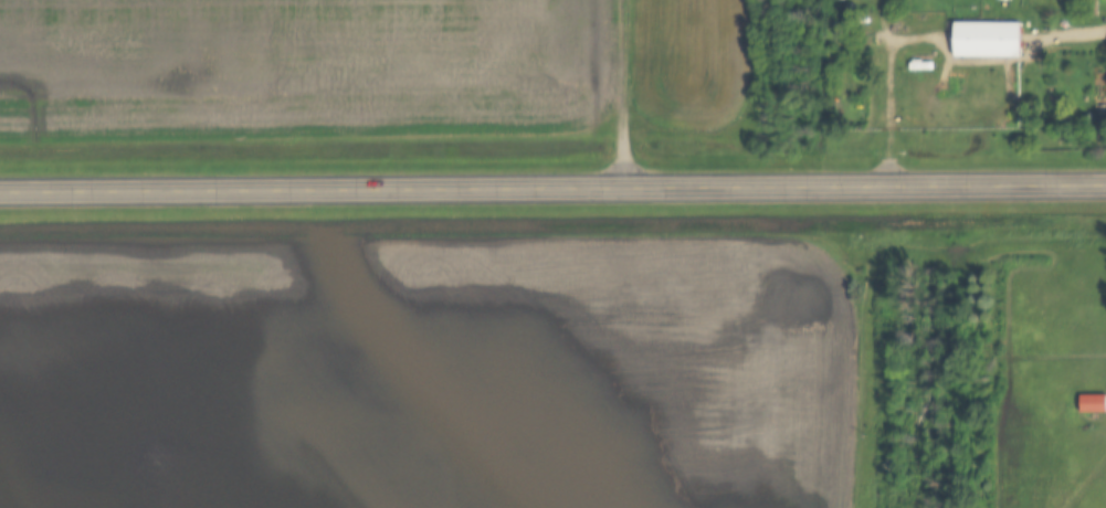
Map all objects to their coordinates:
building: (1092, 10)
road: (1070, 38)
building: (986, 42)
crop: (686, 62)
crop: (302, 71)
road: (552, 190)
crop: (421, 374)

